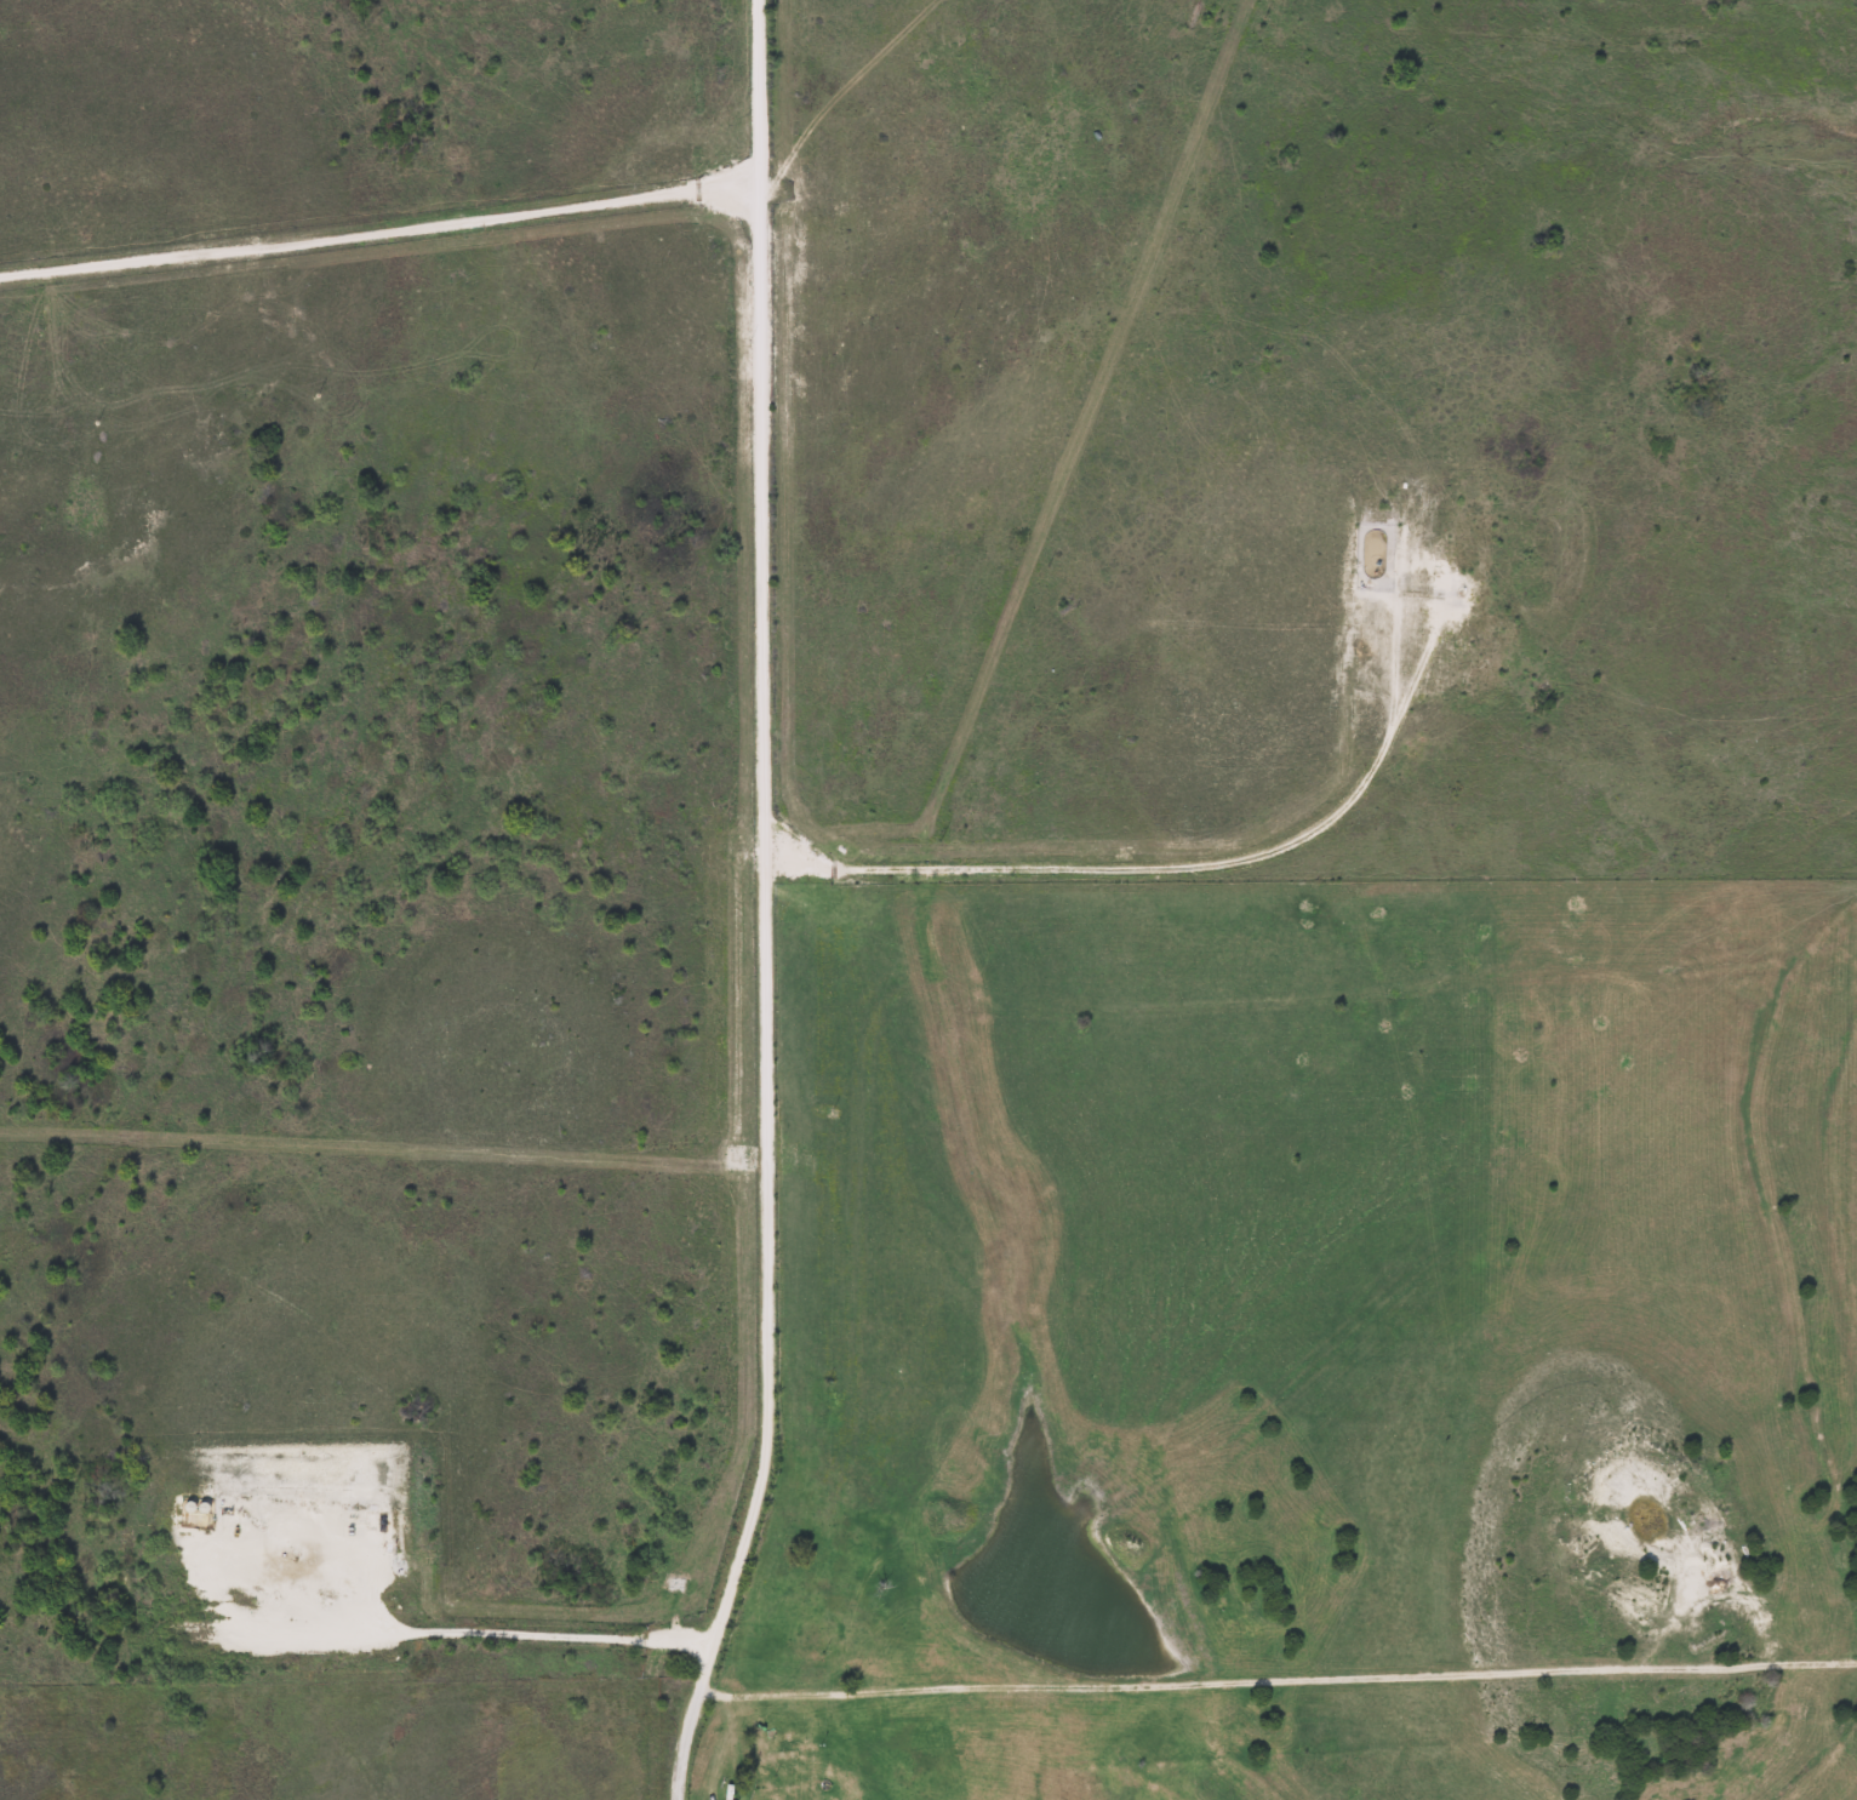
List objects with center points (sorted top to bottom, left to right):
road: (378, 235)
road: (23, 257)
road: (761, 905)
road: (1316, 999)
building: (195, 1516)
road: (530, 1633)
road: (1272, 1682)

